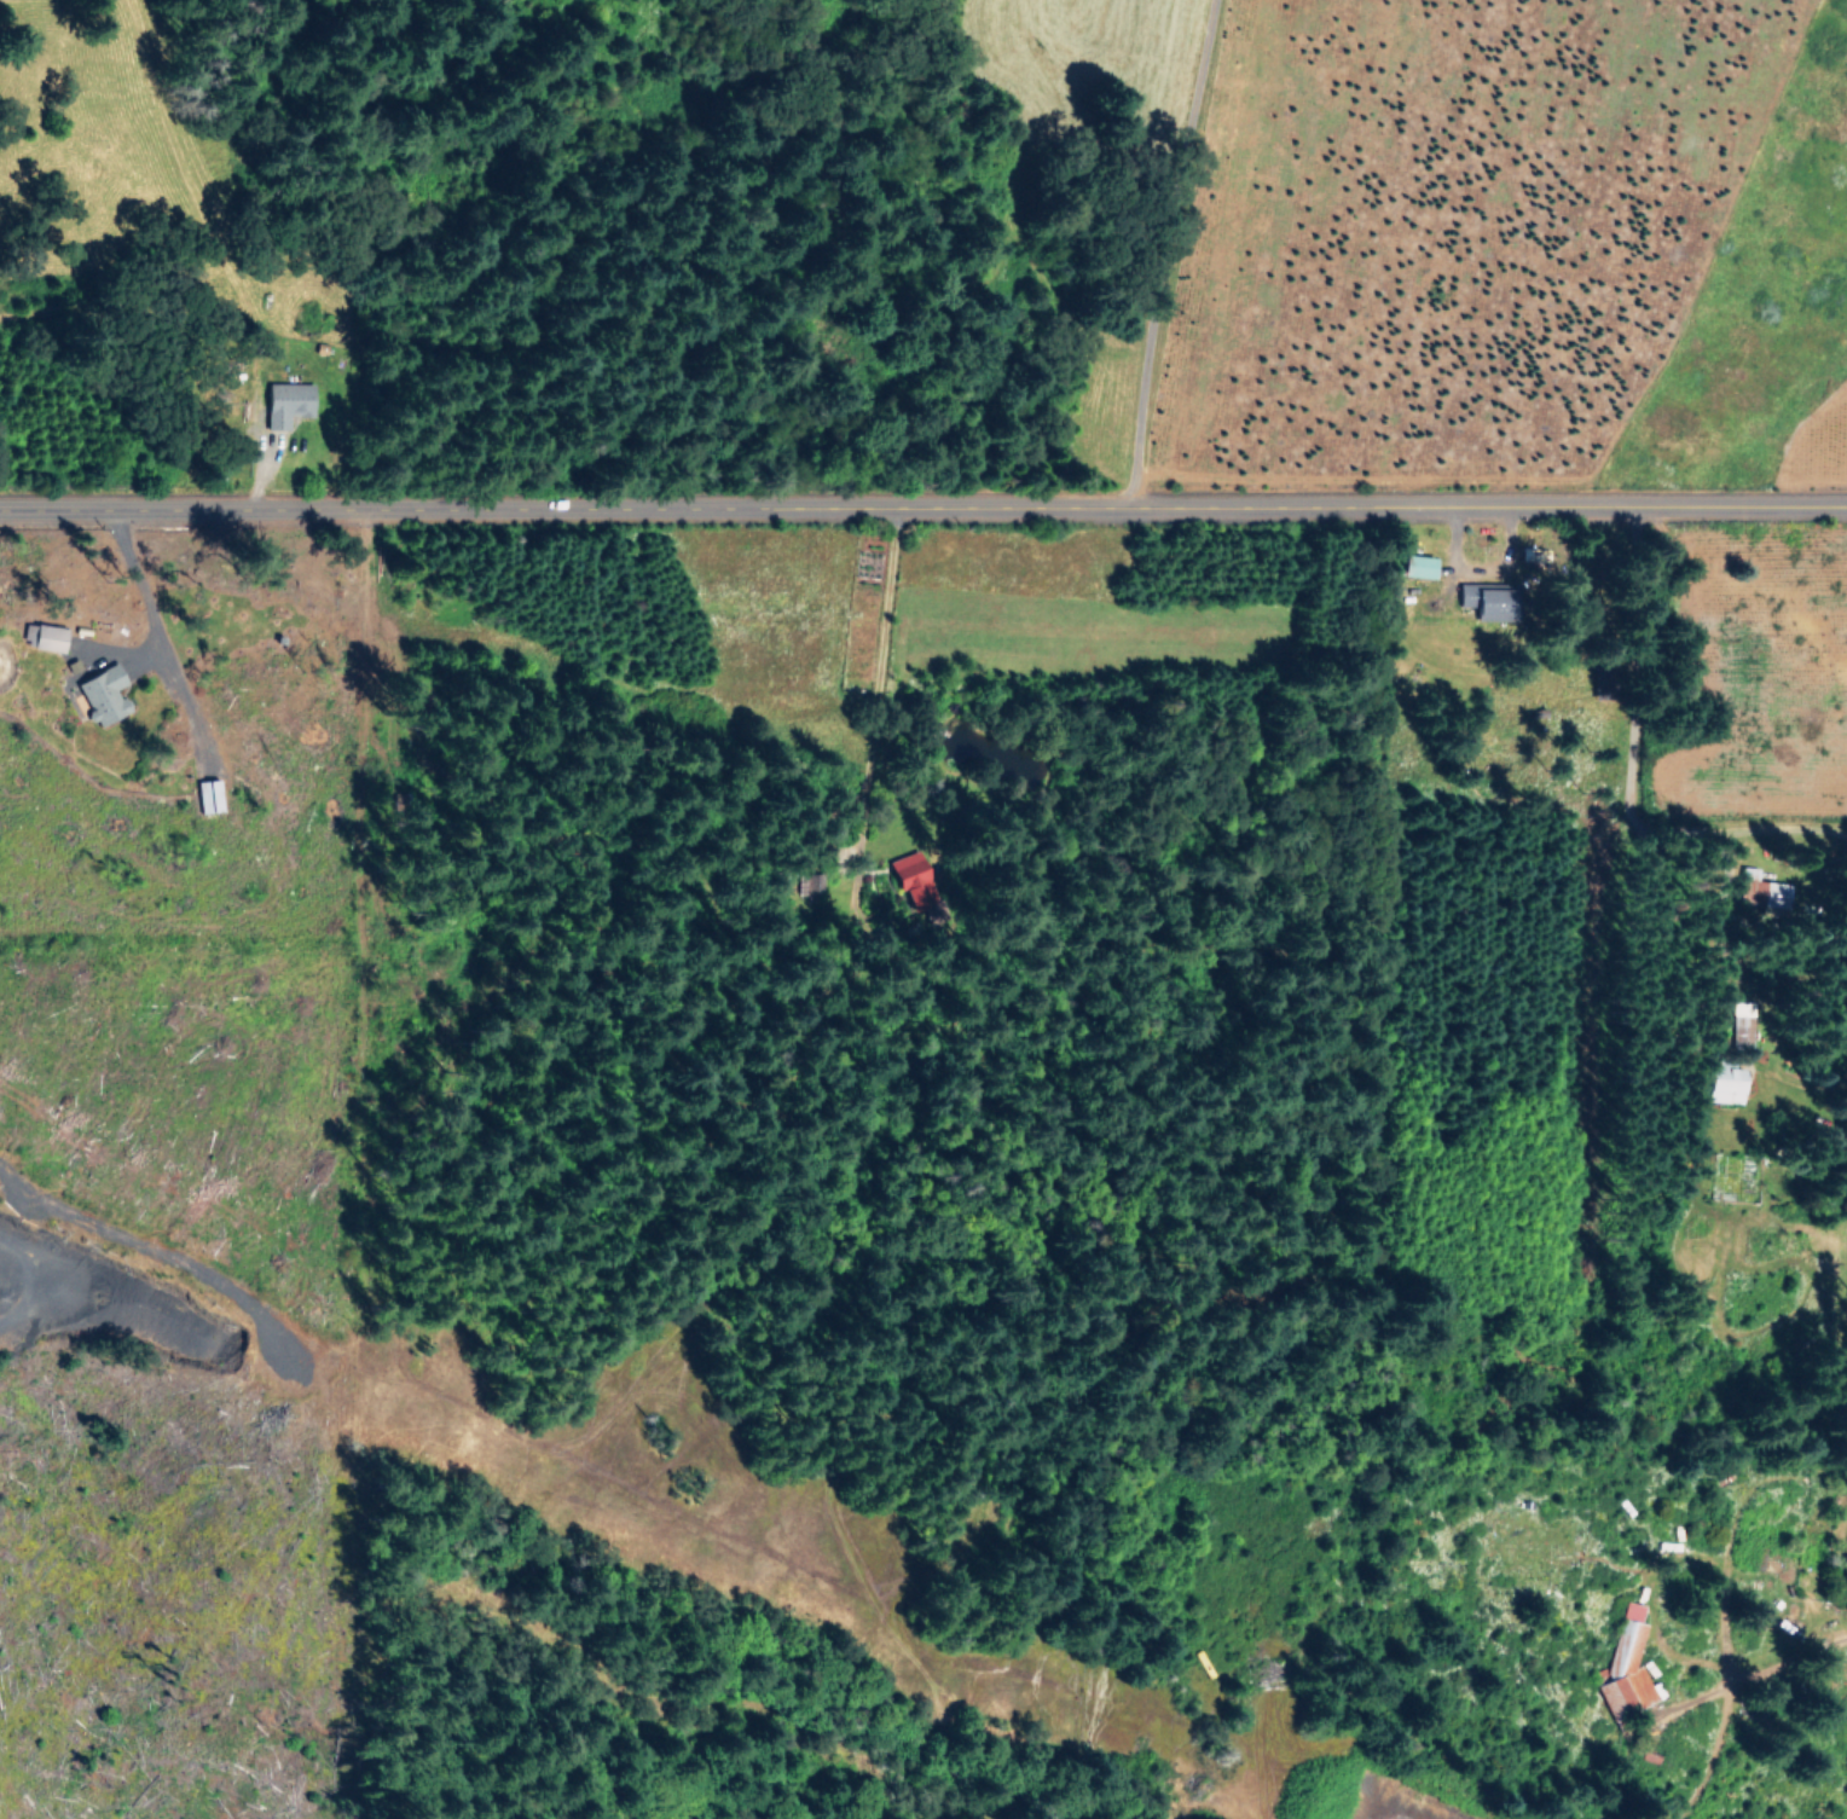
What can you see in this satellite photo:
road: (210, 254)
road: (1164, 254)
building: (286, 401)
road: (1368, 508)
road: (445, 510)
building: (1413, 563)
building: (1482, 596)
road: (147, 608)
road: (878, 627)
building: (99, 691)
building: (1720, 1082)
road: (25, 1320)
quarry: (94, 1330)
building: (1845, 1548)
road: (1680, 1589)
building: (1625, 1667)

